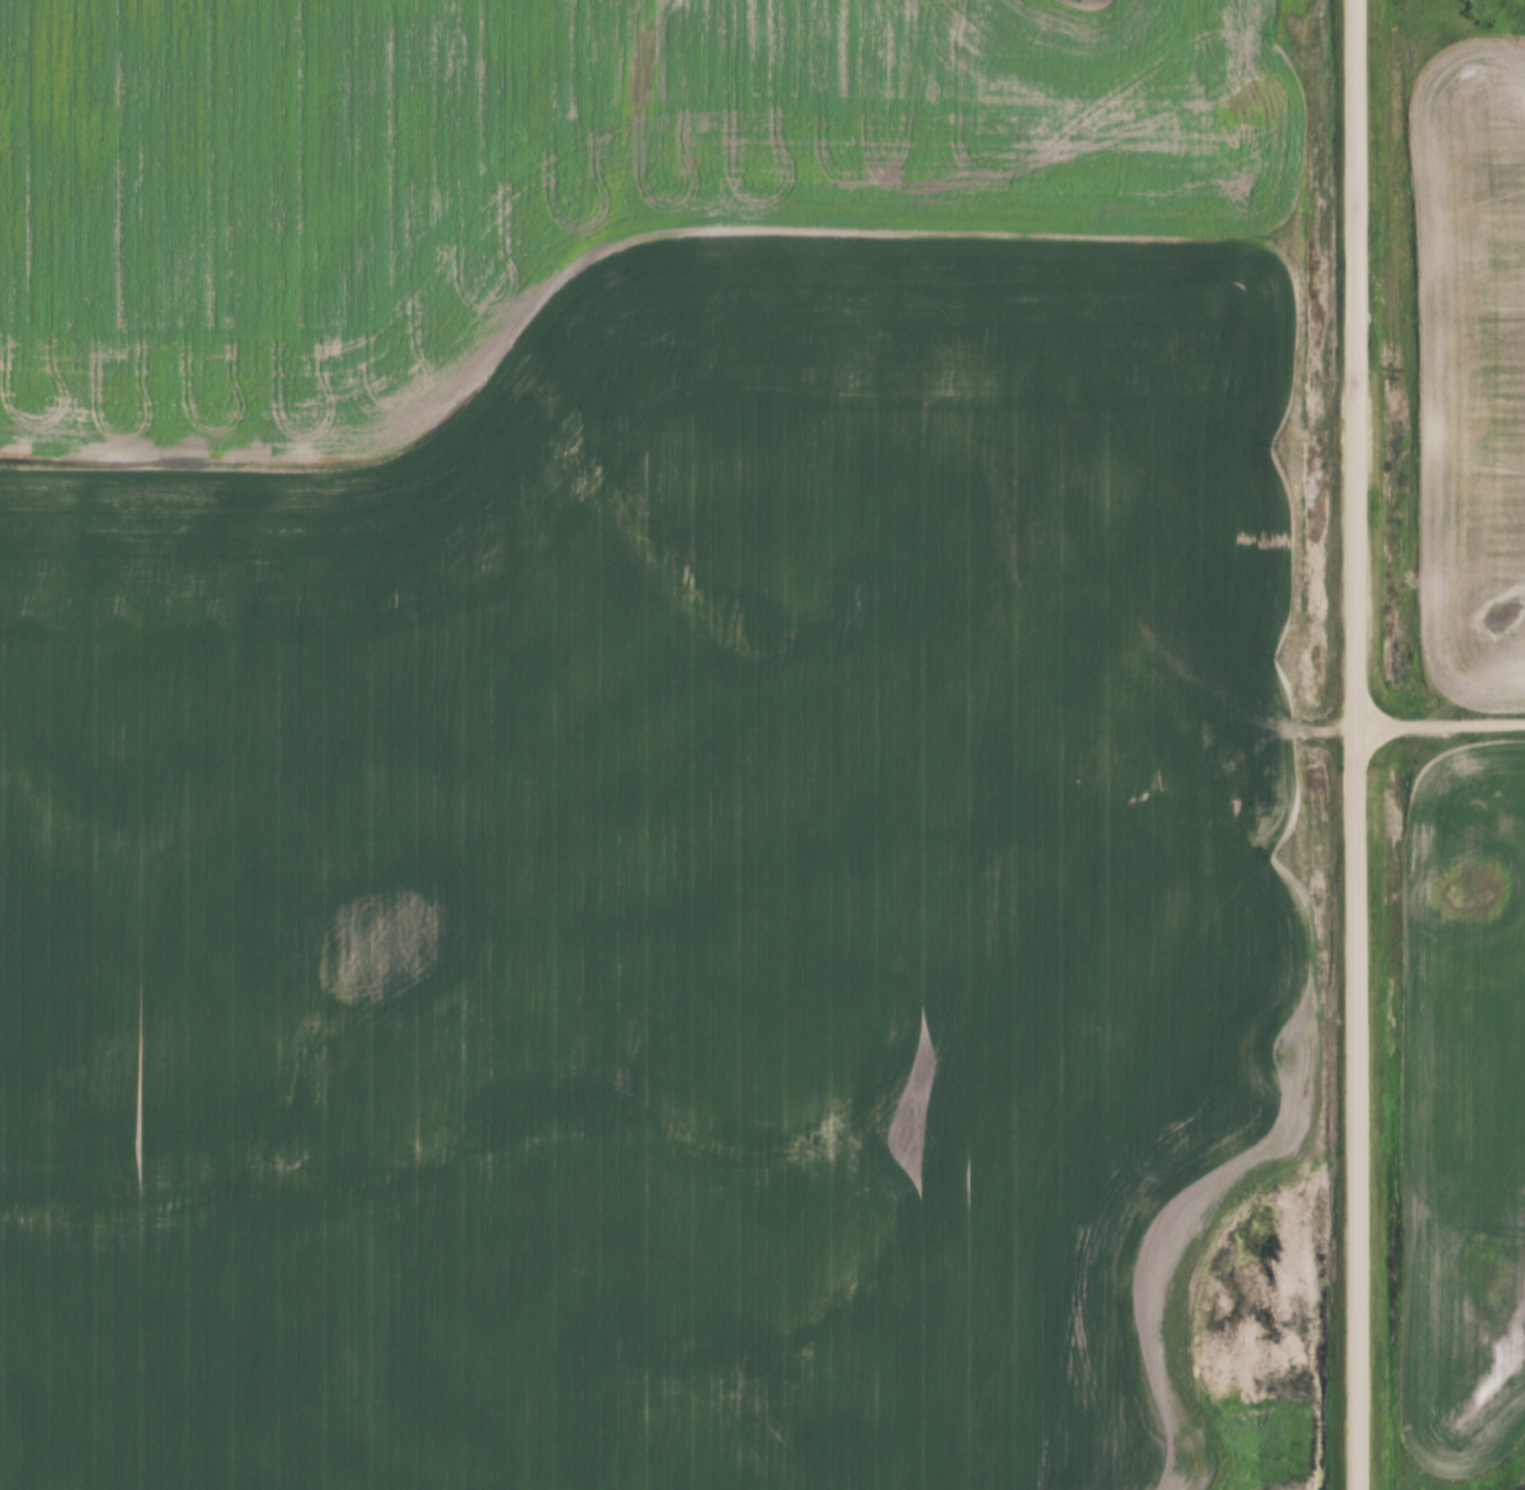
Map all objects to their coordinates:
road: (1441, 726)
road: (1357, 745)

